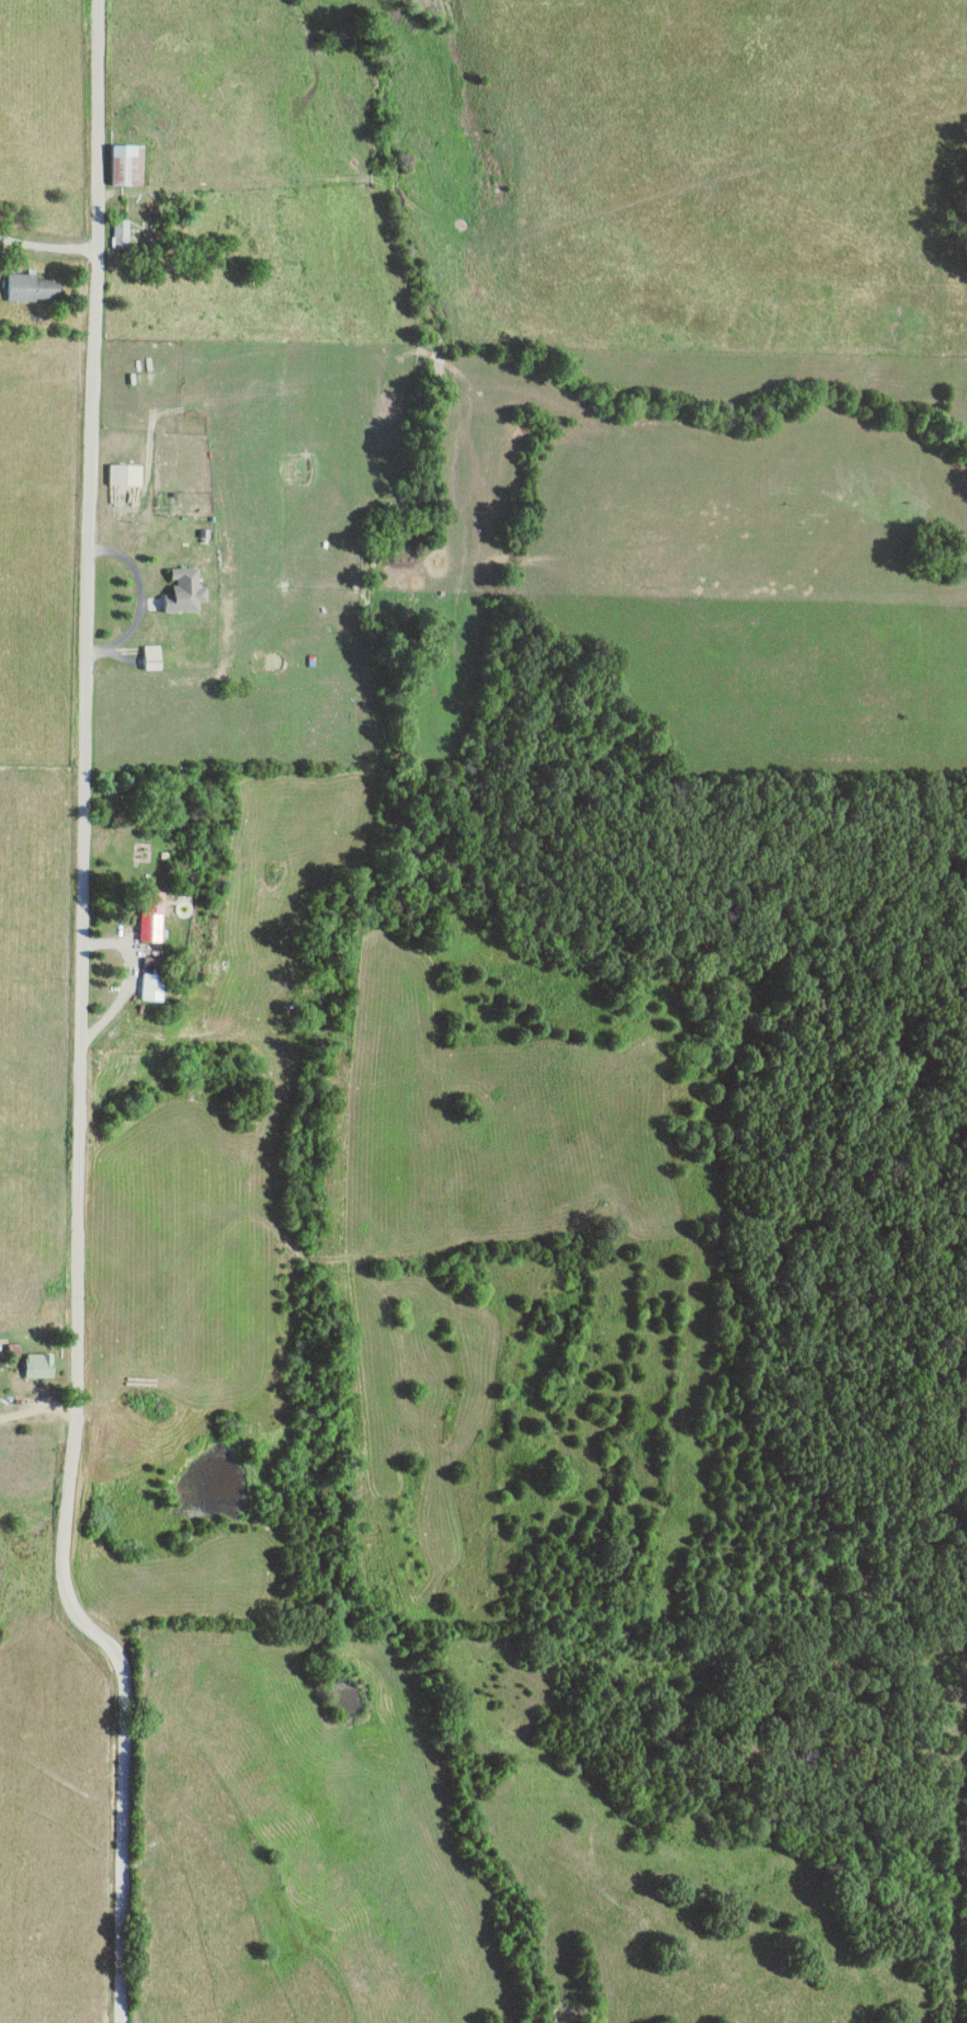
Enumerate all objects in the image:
building: (130, 165)
building: (125, 235)
road: (52, 247)
building: (35, 288)
building: (129, 476)
building: (188, 592)
building: (156, 658)
building: (156, 919)
road: (139, 977)
building: (157, 988)
road: (88, 1026)
building: (42, 1366)
road: (41, 1409)

